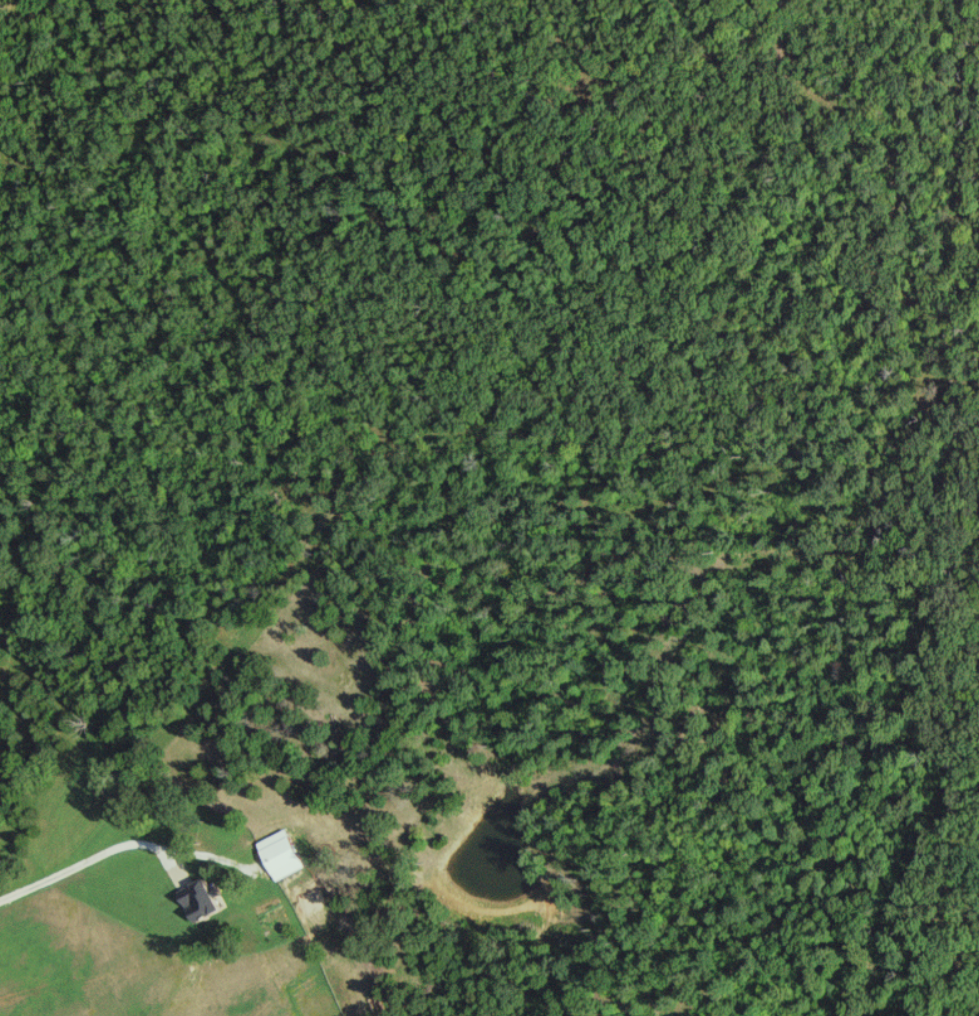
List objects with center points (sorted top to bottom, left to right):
building: (286, 854)
road: (89, 861)
building: (206, 900)

